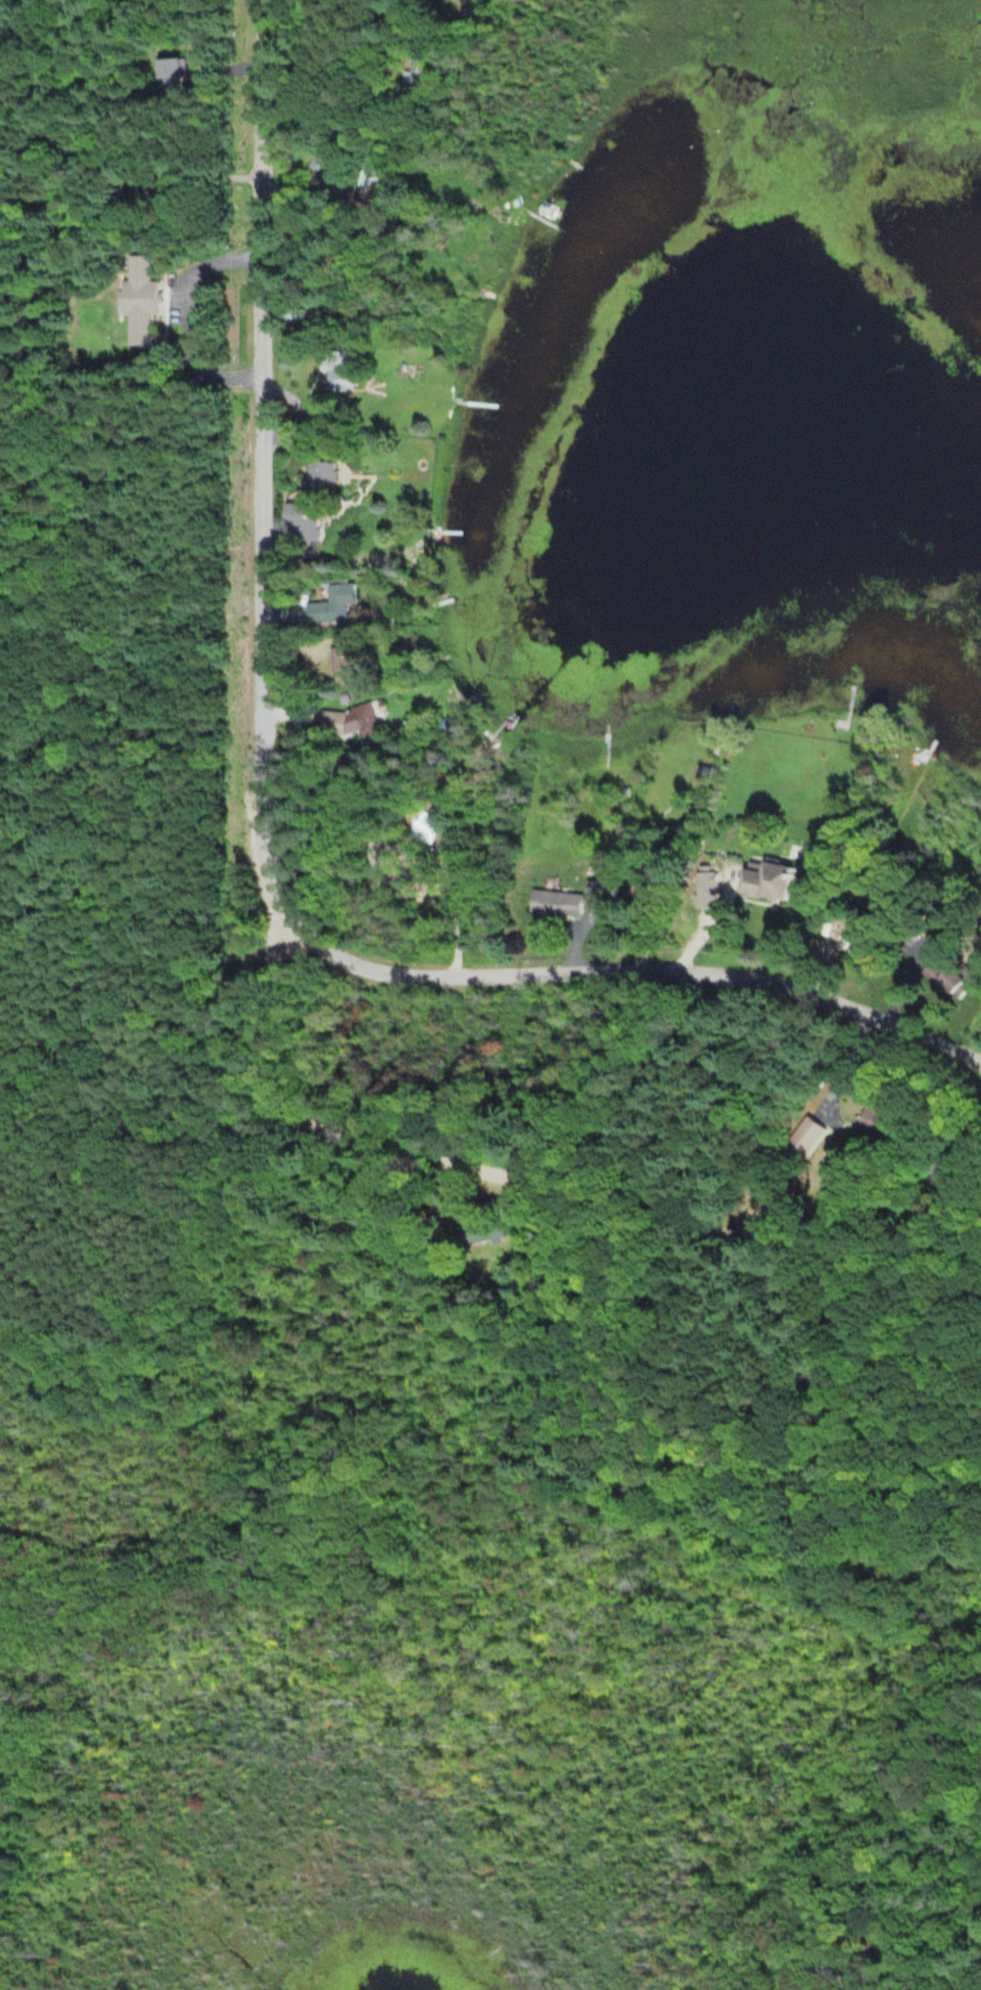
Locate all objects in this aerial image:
building: (172, 73)
building: (140, 298)
building: (326, 332)
building: (336, 379)
building: (318, 405)
building: (318, 477)
building: (301, 521)
building: (331, 605)
building: (338, 660)
building: (346, 720)
road: (264, 824)
building: (424, 828)
building: (766, 880)
building: (707, 891)
building: (567, 900)
building: (954, 973)
building: (980, 1014)
building: (877, 1122)
building: (806, 1138)
road: (151, 1172)
road: (550, 1184)
building: (485, 1229)

